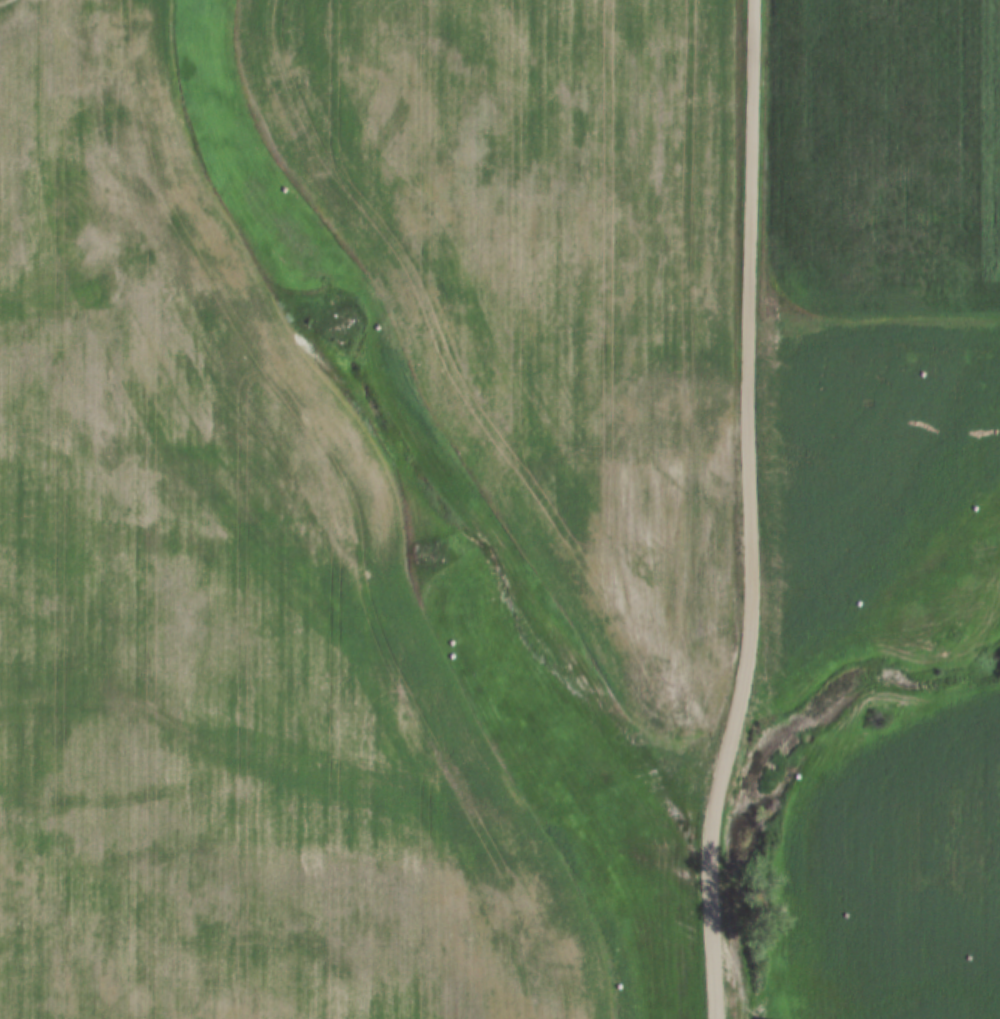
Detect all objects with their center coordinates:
road: (751, 513)

